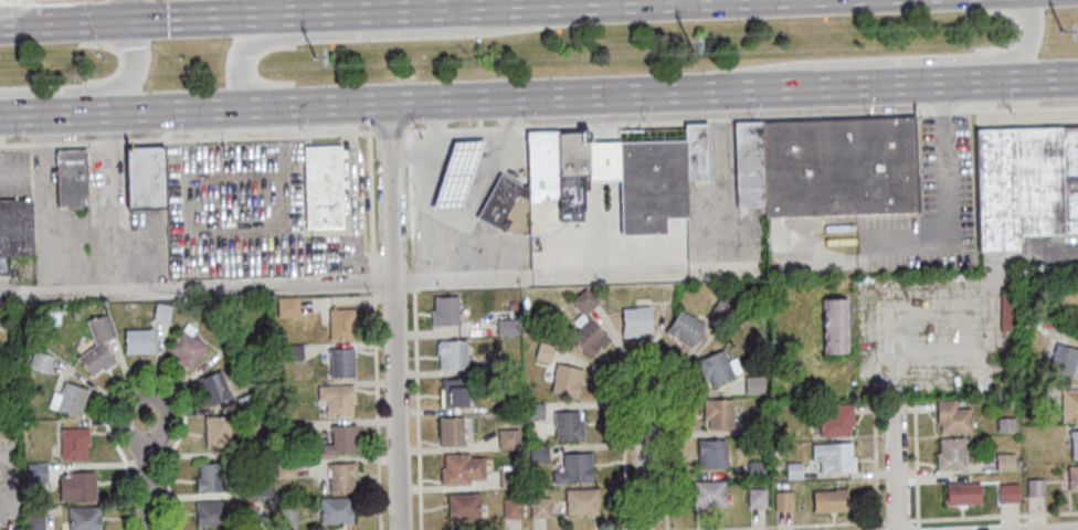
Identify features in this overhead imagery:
road: (598, 1)
road: (628, 1)
road: (442, 4)
road: (516, 6)
road: (285, 7)
road: (131, 9)
road: (14, 11)
road: (388, 11)
road: (309, 13)
road: (209, 17)
traffic signals: (133, 19)
road: (443, 20)
road: (66, 21)
road: (287, 25)
road: (384, 33)
power tower: (1063, 35)
power tower: (695, 42)
power tower: (317, 55)
road: (880, 60)
road: (1056, 76)
road: (966, 79)
road: (96, 88)
road: (504, 97)
road: (941, 97)
road: (1015, 108)
road: (54, 112)
road: (942, 113)
road: (670, 123)
road: (433, 127)
road: (389, 132)
road: (408, 132)
road: (186, 139)
road: (505, 139)
building: (695, 151)
building: (569, 152)
road: (416, 153)
road: (461, 157)
building: (601, 161)
building: (540, 165)
building: (748, 166)
building: (838, 169)
parking lot: (948, 171)
road: (13, 172)
building: (455, 174)
building: (68, 178)
building: (144, 178)
building: (320, 187)
building: (1024, 187)
building: (649, 188)
building: (568, 197)
road: (411, 201)
road: (371, 203)
building: (504, 203)
parking lot: (245, 212)
road: (463, 213)
road: (945, 225)
building: (14, 227)
road: (74, 250)
road: (805, 261)
road: (414, 280)
road: (373, 284)
road: (381, 284)
building: (584, 299)
building: (510, 305)
building: (721, 305)
building: (285, 306)
building: (445, 309)
building: (1007, 310)
building: (159, 312)
road: (392, 316)
building: (637, 321)
building: (340, 325)
building: (507, 325)
building: (835, 325)
building: (685, 327)
building: (98, 328)
building: (588, 336)
building: (137, 341)
building: (184, 346)
building: (543, 349)
building: (293, 351)
building: (453, 353)
building: (93, 359)
building: (1065, 359)
building: (39, 361)
road: (642, 361)
building: (340, 363)
building: (500, 363)
building: (716, 367)
building: (567, 379)
road: (145, 380)
building: (754, 383)
building: (212, 388)
building: (1031, 392)
building: (454, 393)
building: (66, 400)
building: (336, 400)
building: (245, 401)
building: (1070, 403)
building: (537, 407)
road: (416, 410)
road: (377, 412)
building: (718, 412)
building: (952, 416)
building: (837, 418)
building: (754, 423)
building: (1006, 423)
building: (569, 424)
building: (289, 428)
building: (452, 430)
building: (215, 431)
building: (509, 438)
building: (342, 439)
building: (72, 443)
building: (1075, 444)
building: (244, 448)
building: (539, 452)
building: (711, 452)
building: (952, 453)
building: (834, 455)
building: (1005, 460)
road: (644, 465)
road: (895, 466)
building: (284, 467)
building: (574, 467)
building: (757, 467)
road: (875, 467)
road: (915, 467)
building: (463, 468)
building: (793, 468)
building: (34, 471)
road: (146, 476)
building: (339, 476)
building: (510, 476)
building: (208, 477)
building: (1072, 477)
building: (76, 486)
building: (1036, 486)
building: (258, 487)
building: (1008, 491)
building: (709, 492)
building: (964, 494)
building: (758, 497)
building: (783, 498)
building: (833, 498)
building: (582, 500)
building: (268, 501)
building: (464, 504)
building: (540, 506)
building: (511, 508)
building: (334, 510)
building: (210, 513)
building: (33, 517)
building: (285, 517)
building: (82, 518)
road: (993, 518)
road: (897, 522)
road: (814, 527)

